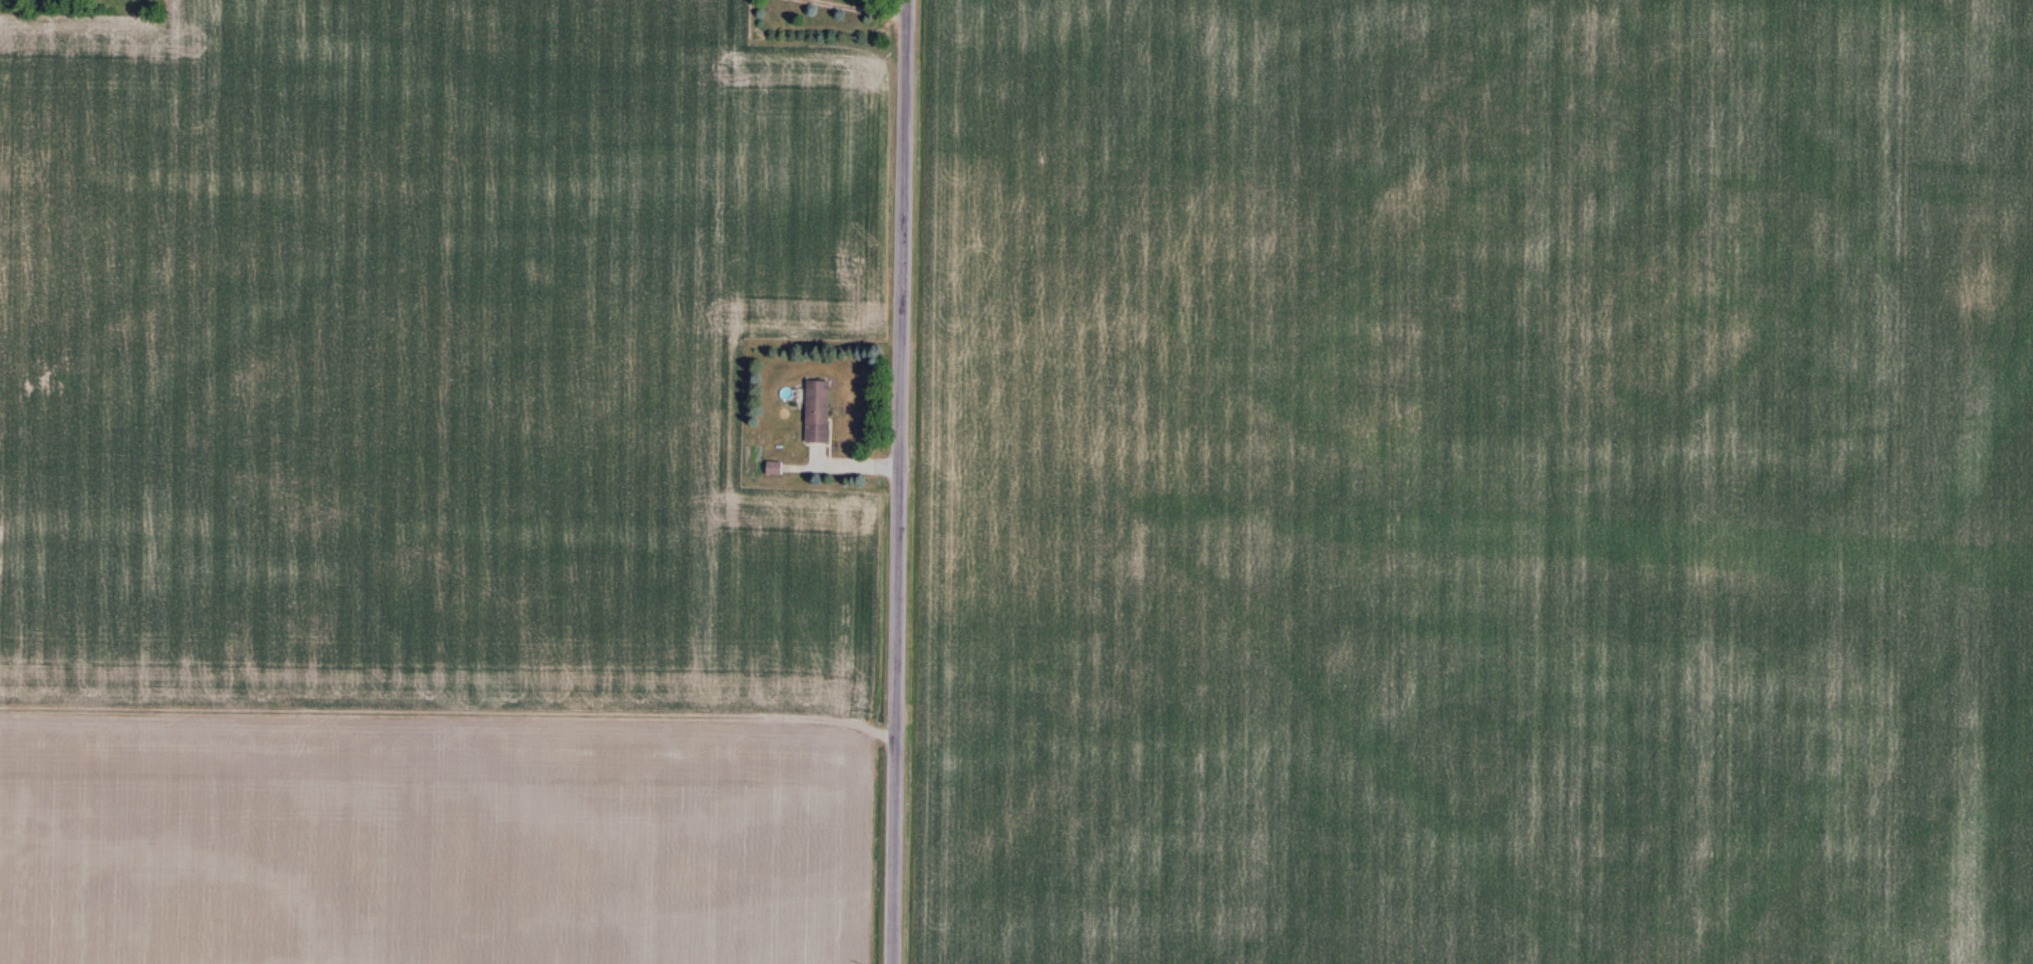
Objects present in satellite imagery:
building: (818, 411)
road: (896, 482)

